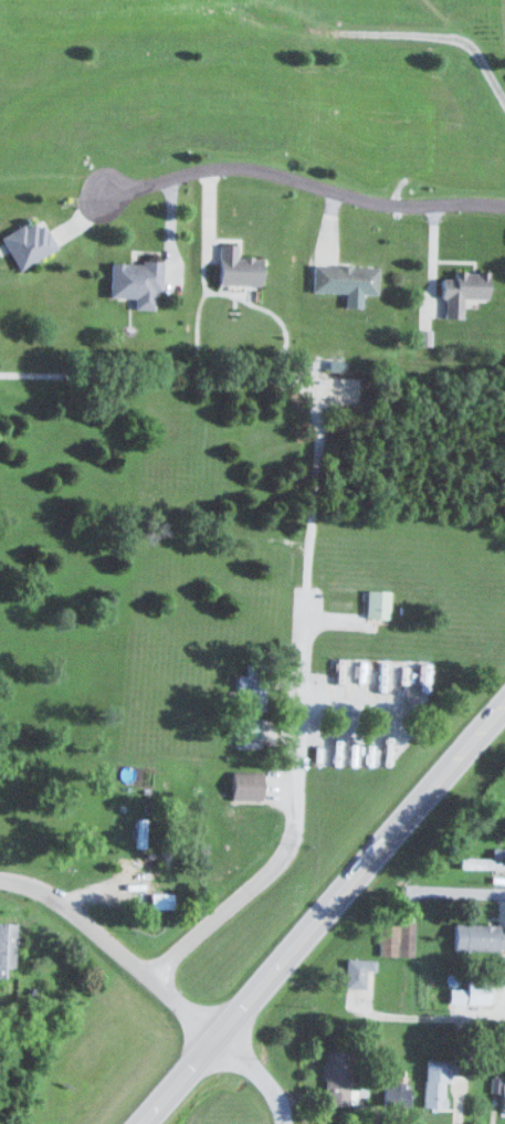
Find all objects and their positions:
road: (302, 181)
building: (28, 242)
building: (236, 265)
building: (345, 277)
building: (135, 281)
building: (462, 290)
building: (377, 605)
building: (253, 689)
road: (303, 713)
building: (245, 726)
building: (246, 785)
building: (38, 841)
building: (480, 862)
road: (460, 891)
building: (161, 900)
road: (322, 913)
road: (80, 918)
building: (478, 936)
building: (396, 937)
road: (193, 938)
building: (7, 945)
building: (358, 971)
building: (478, 990)
building: (336, 1076)
building: (434, 1083)
building: (396, 1093)
building: (503, 1095)

